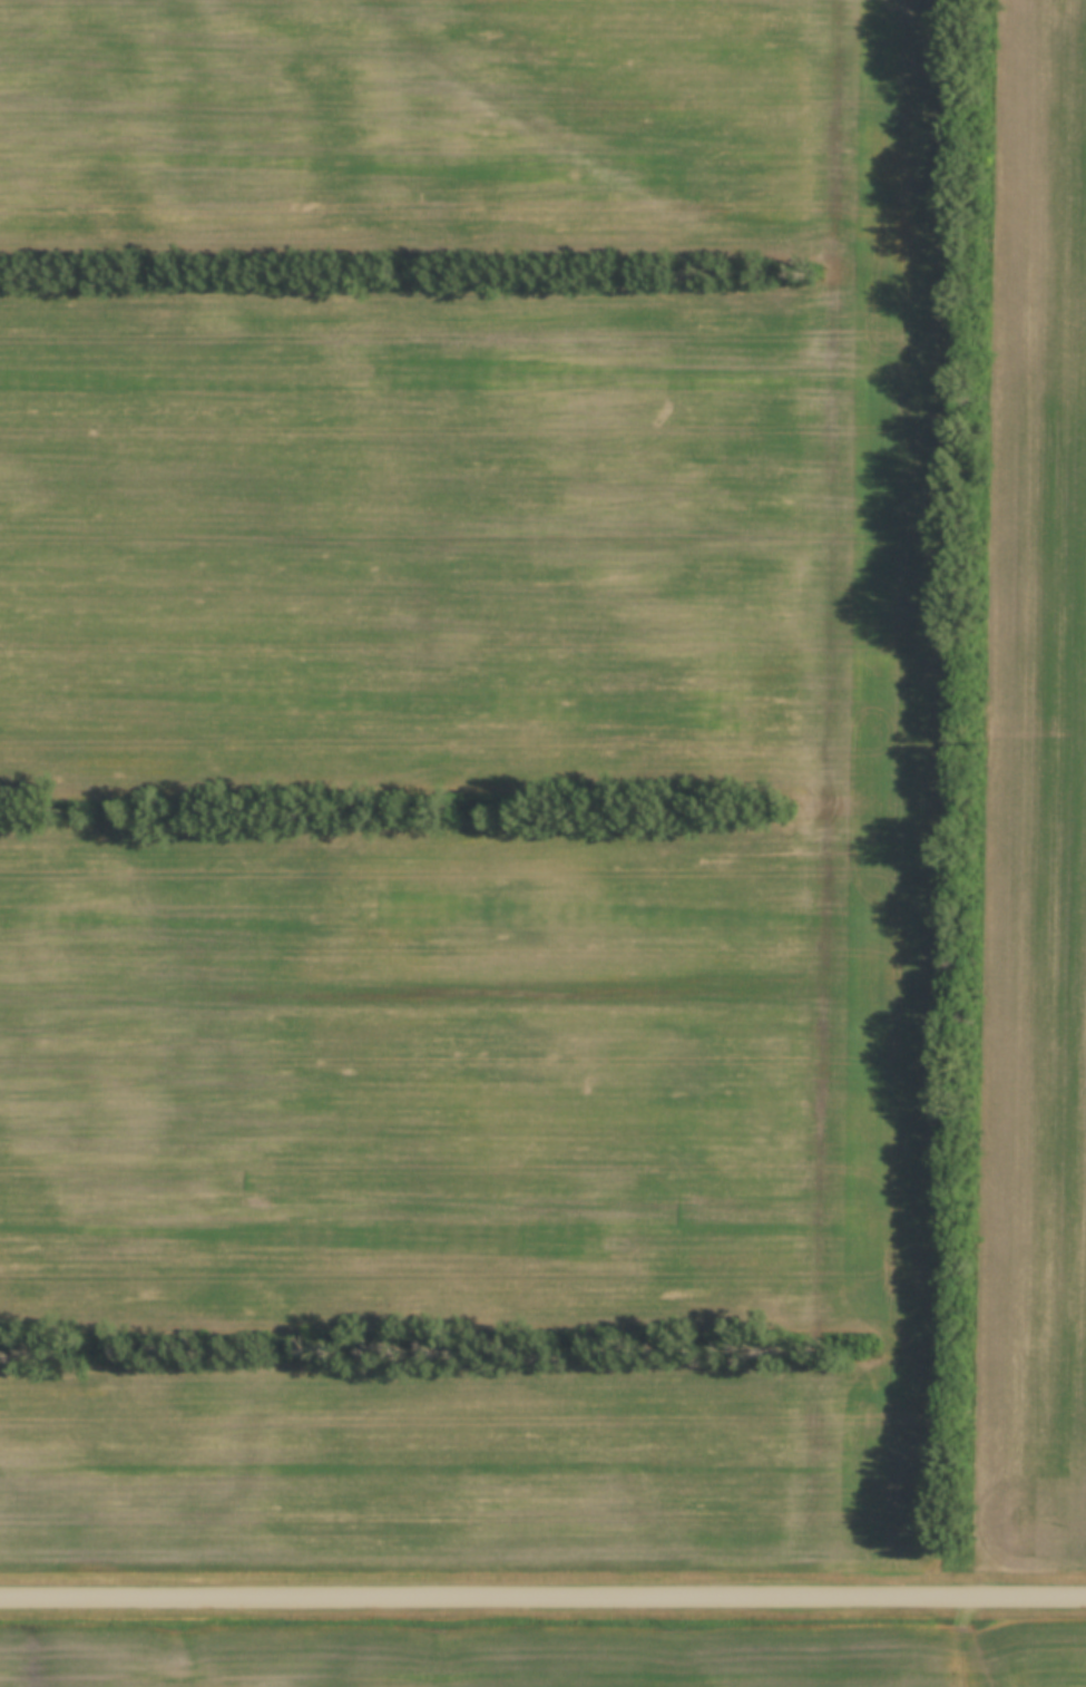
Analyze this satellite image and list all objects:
road: (542, 1600)

